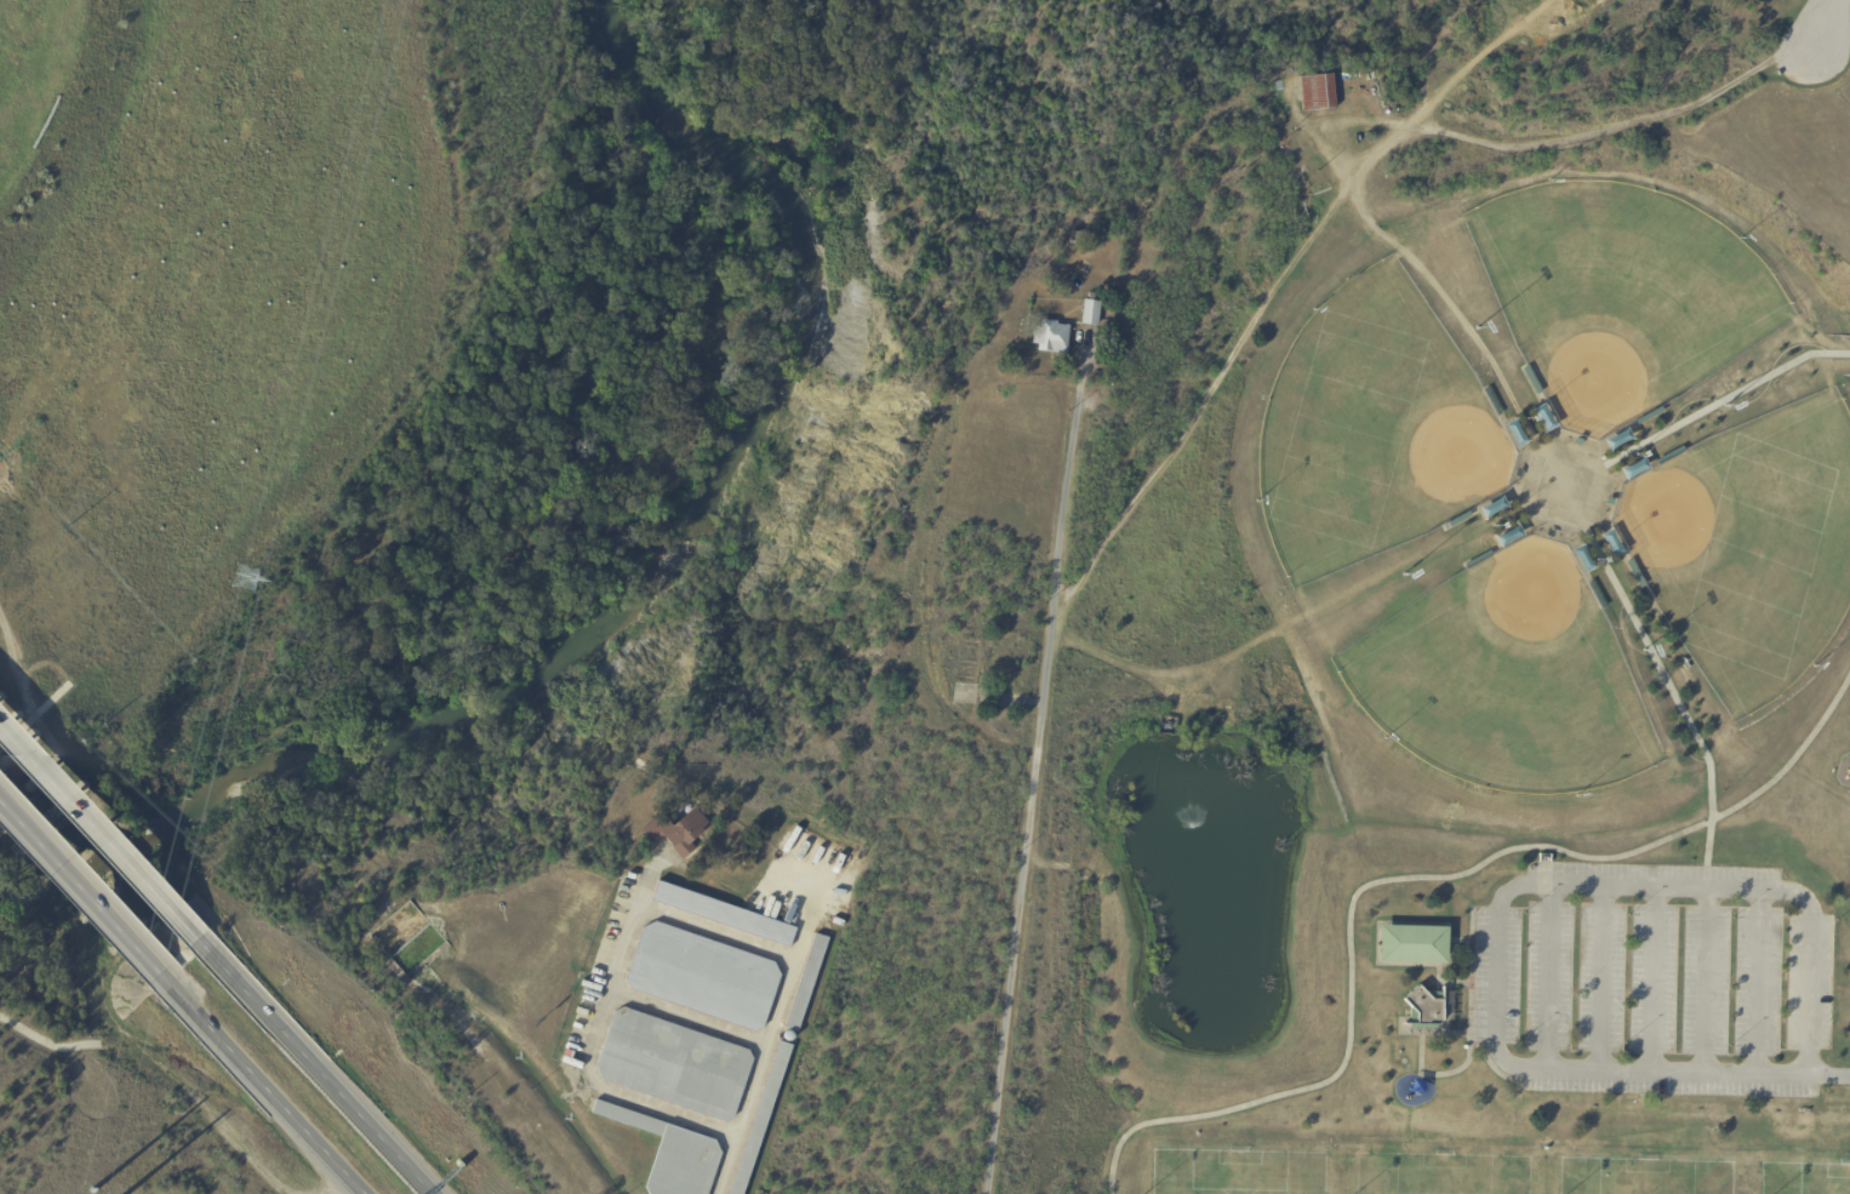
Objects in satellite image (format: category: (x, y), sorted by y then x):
road: (1822, 29)
building: (1320, 95)
road: (1549, 142)
road: (1274, 291)
park: (1622, 297)
building: (1092, 315)
building: (1054, 339)
building: (1535, 381)
road: (1724, 401)
building: (1496, 402)
building: (1652, 416)
park: (1375, 429)
building: (1581, 442)
building: (1674, 456)
road: (1068, 467)
building: (1521, 475)
building: (1614, 502)
building: (1460, 521)
building: (1554, 535)
park: (1749, 547)
building: (1481, 560)
building: (1639, 575)
power tower: (245, 590)
building: (1600, 596)
river: (652, 600)
park: (1349, 604)
road: (1650, 650)
park: (1507, 678)
building: (1207, 705)
road: (98, 834)
building: (678, 834)
road: (1408, 879)
road: (80, 889)
road: (1793, 893)
road: (1020, 895)
road: (1509, 895)
building: (724, 914)
building: (1417, 947)
parking lot: (1654, 979)
road: (1549, 981)
road: (1603, 982)
road: (1654, 982)
road: (1706, 983)
building: (807, 986)
road: (606, 988)
road: (1809, 994)
building: (1426, 1010)
road: (687, 1018)
road: (47, 1042)
road: (769, 1044)
road: (142, 1052)
building: (675, 1066)
road: (314, 1067)
road: (1783, 1076)
road: (1829, 1078)
park: (73, 1080)
road: (262, 1085)
building: (764, 1119)
building: (673, 1154)
park: (1237, 1182)
park: (1437, 1184)
road: (344, 1188)
park: (1639, 1188)
park: (1804, 1189)

